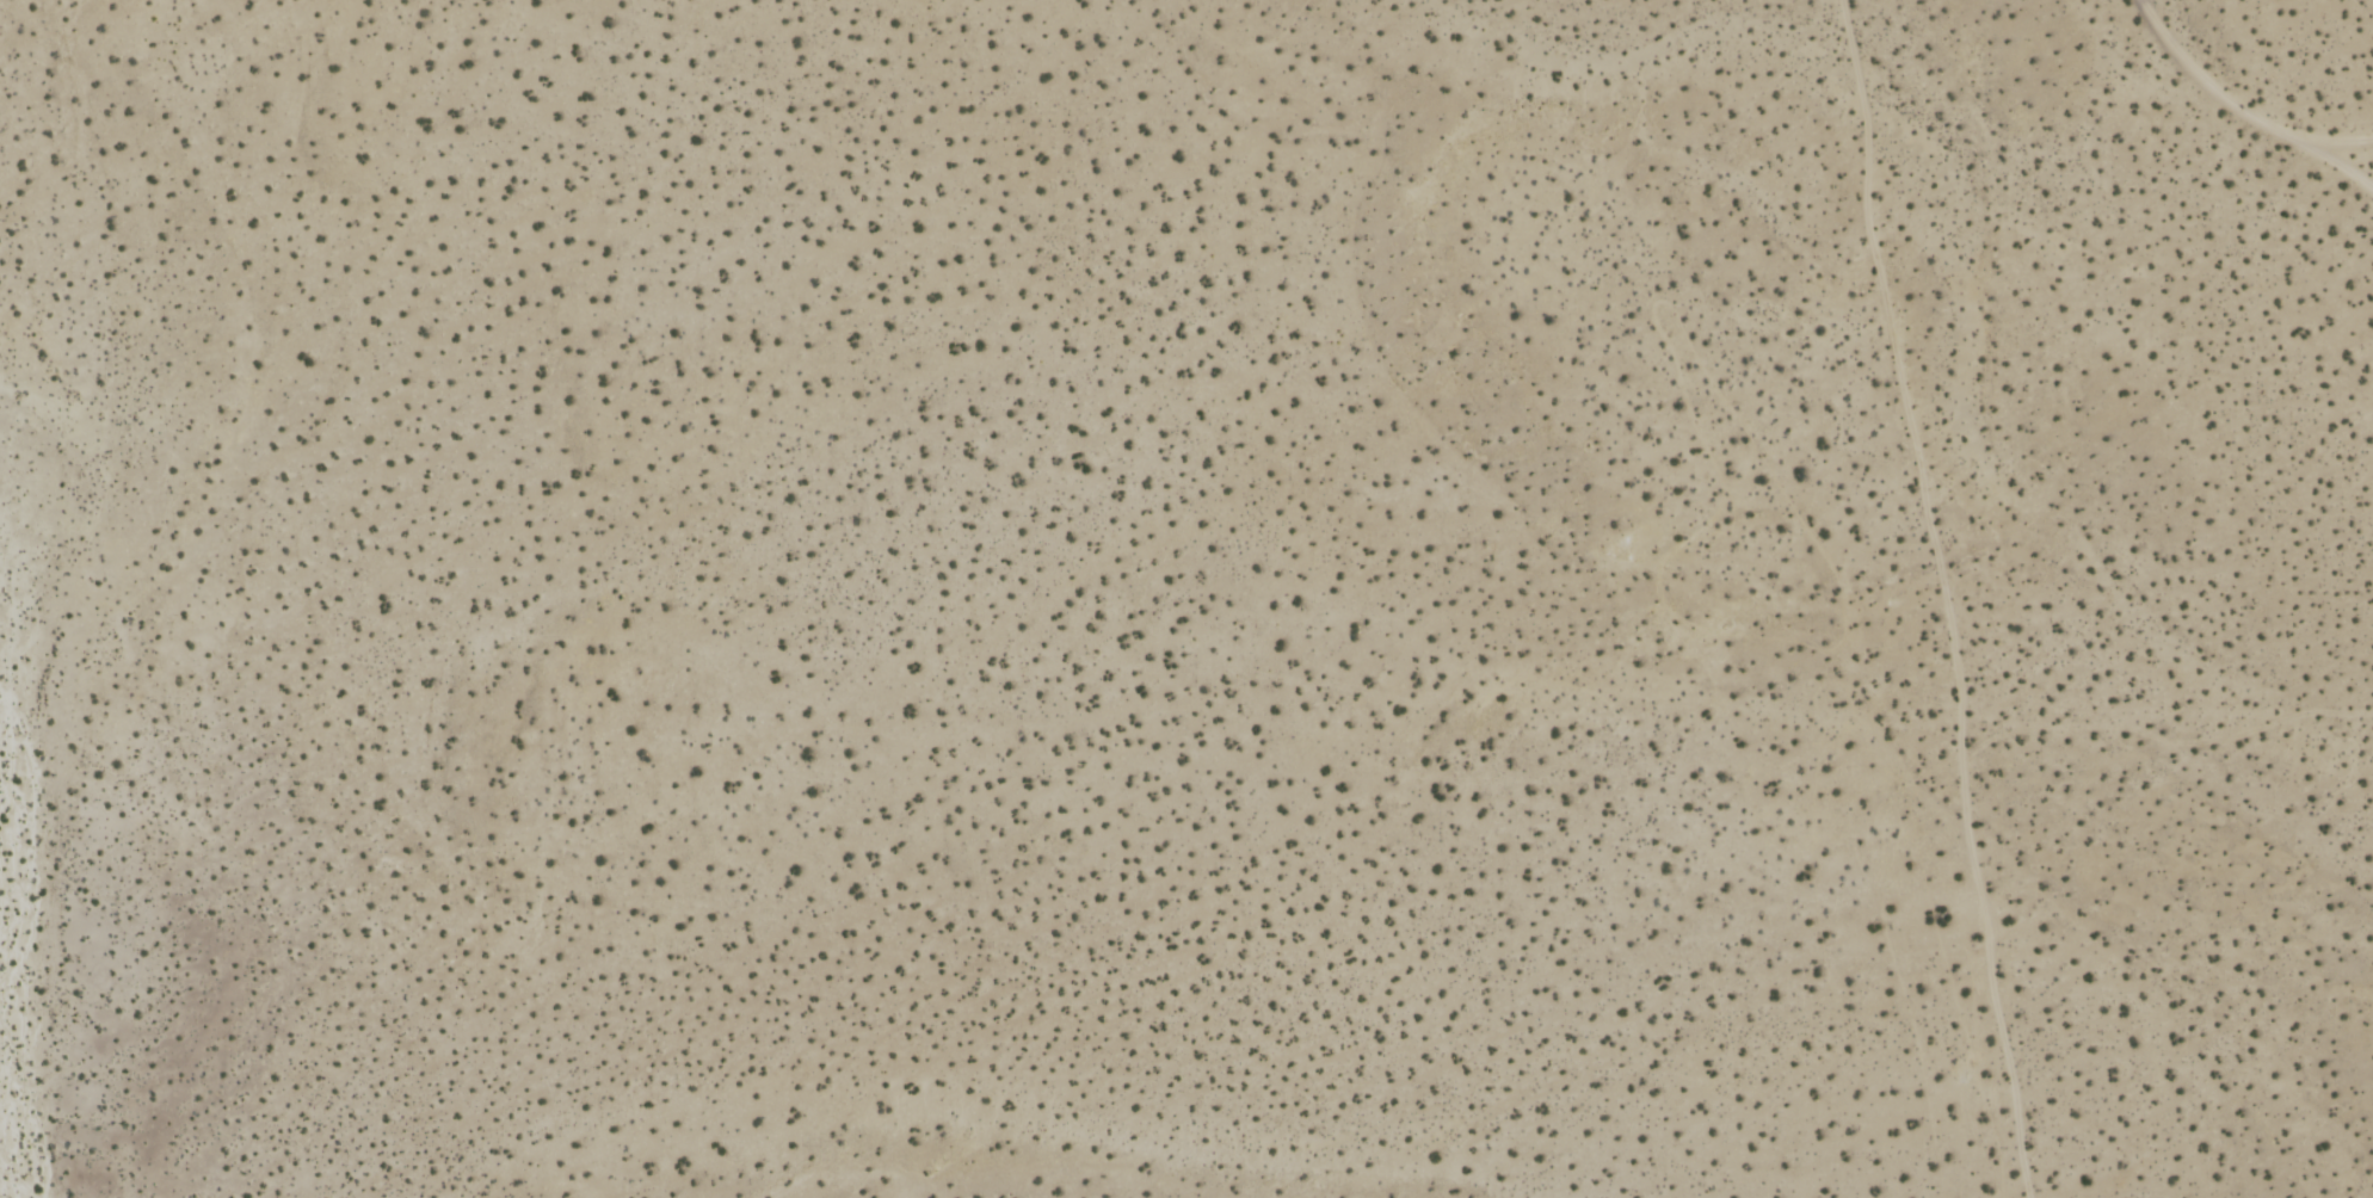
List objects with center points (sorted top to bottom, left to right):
road: (1953, 599)

